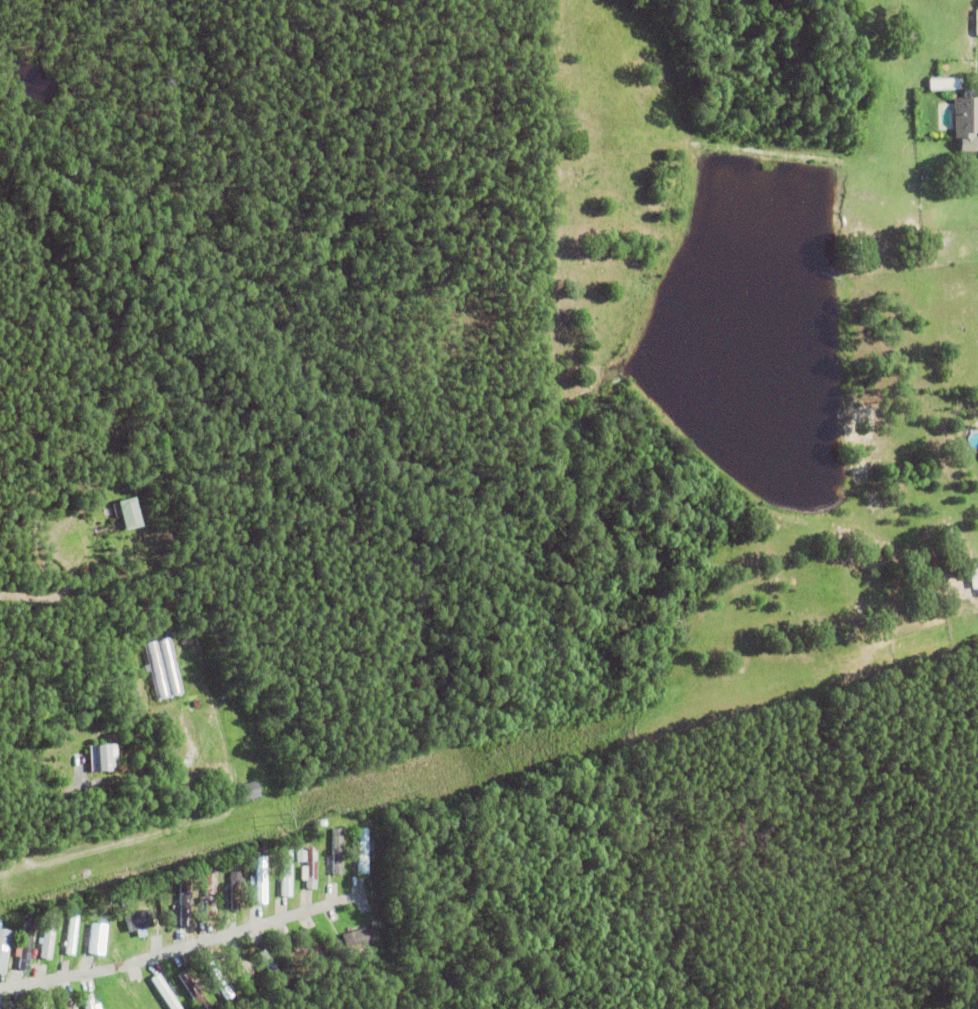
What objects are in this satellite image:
building: (976, 24)
building: (944, 86)
building: (965, 124)
building: (970, 216)
building: (129, 509)
building: (974, 581)
building: (162, 668)
building: (134, 696)
building: (196, 702)
building: (103, 755)
building: (250, 788)
road: (41, 819)
road: (92, 846)
building: (338, 849)
building: (363, 849)
building: (302, 854)
building: (310, 866)
building: (198, 872)
building: (287, 872)
building: (261, 879)
building: (235, 886)
building: (210, 891)
building: (187, 902)
building: (138, 919)
building: (0, 923)
building: (70, 933)
building: (359, 935)
building: (49, 938)
building: (99, 938)
building: (26, 945)
building: (4, 946)
road: (185, 947)
building: (309, 952)
building: (271, 967)
building: (245, 974)
building: (218, 979)
building: (193, 989)
building: (165, 992)
building: (37, 994)
building: (65, 1001)
building: (88, 1001)
building: (41, 1005)
building: (20, 1008)

